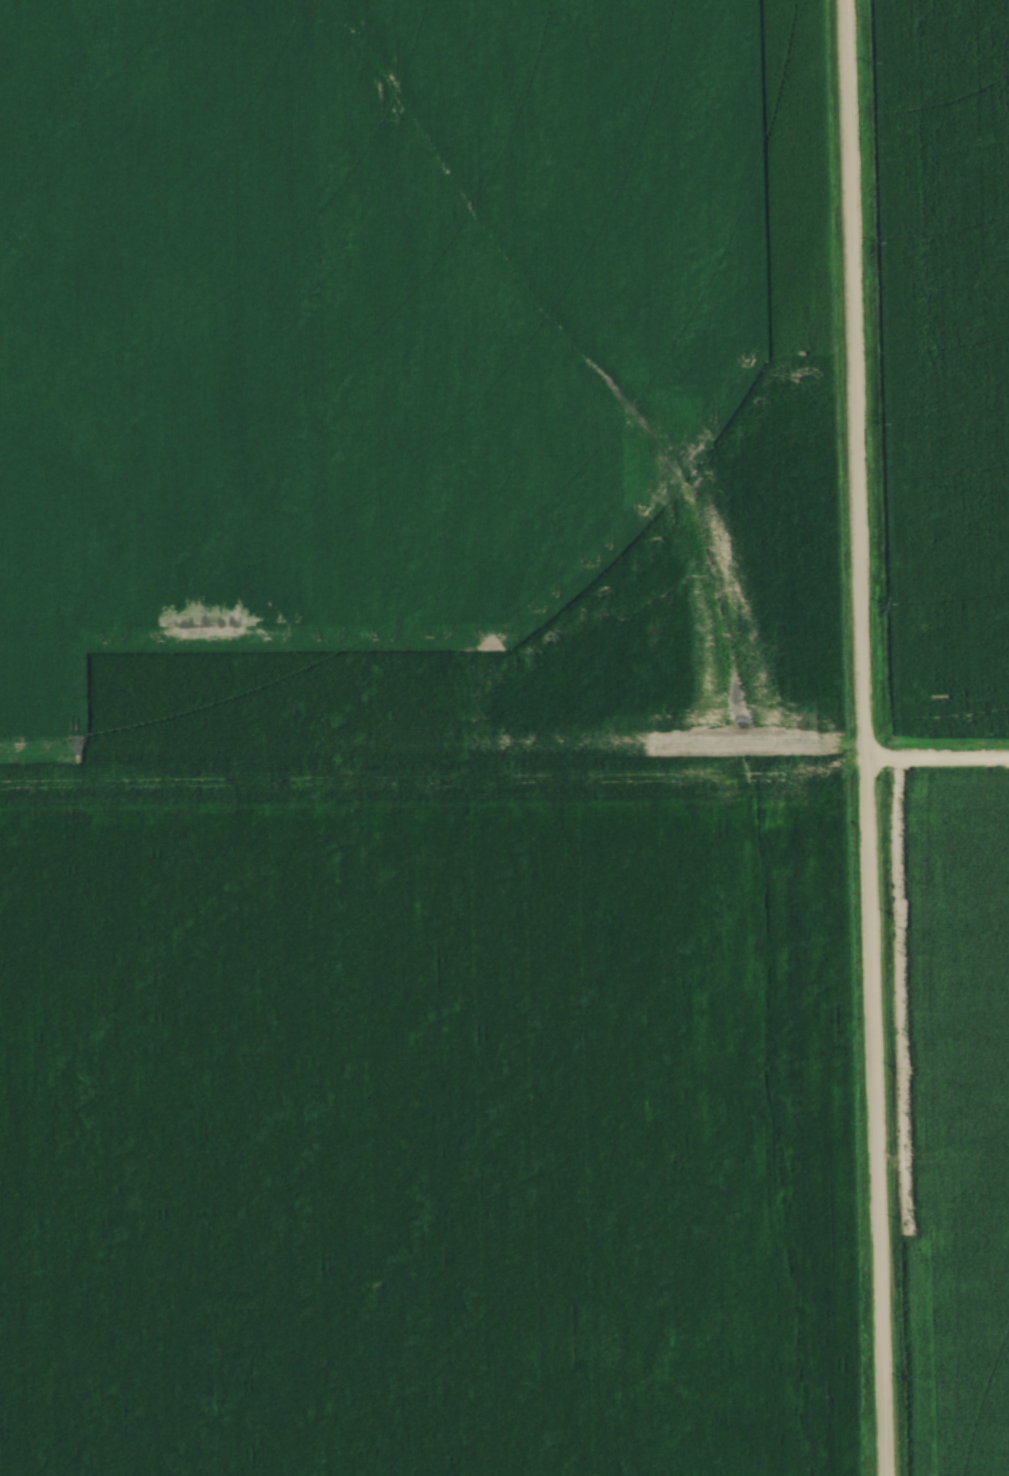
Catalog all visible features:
road: (861, 738)
road: (935, 763)

